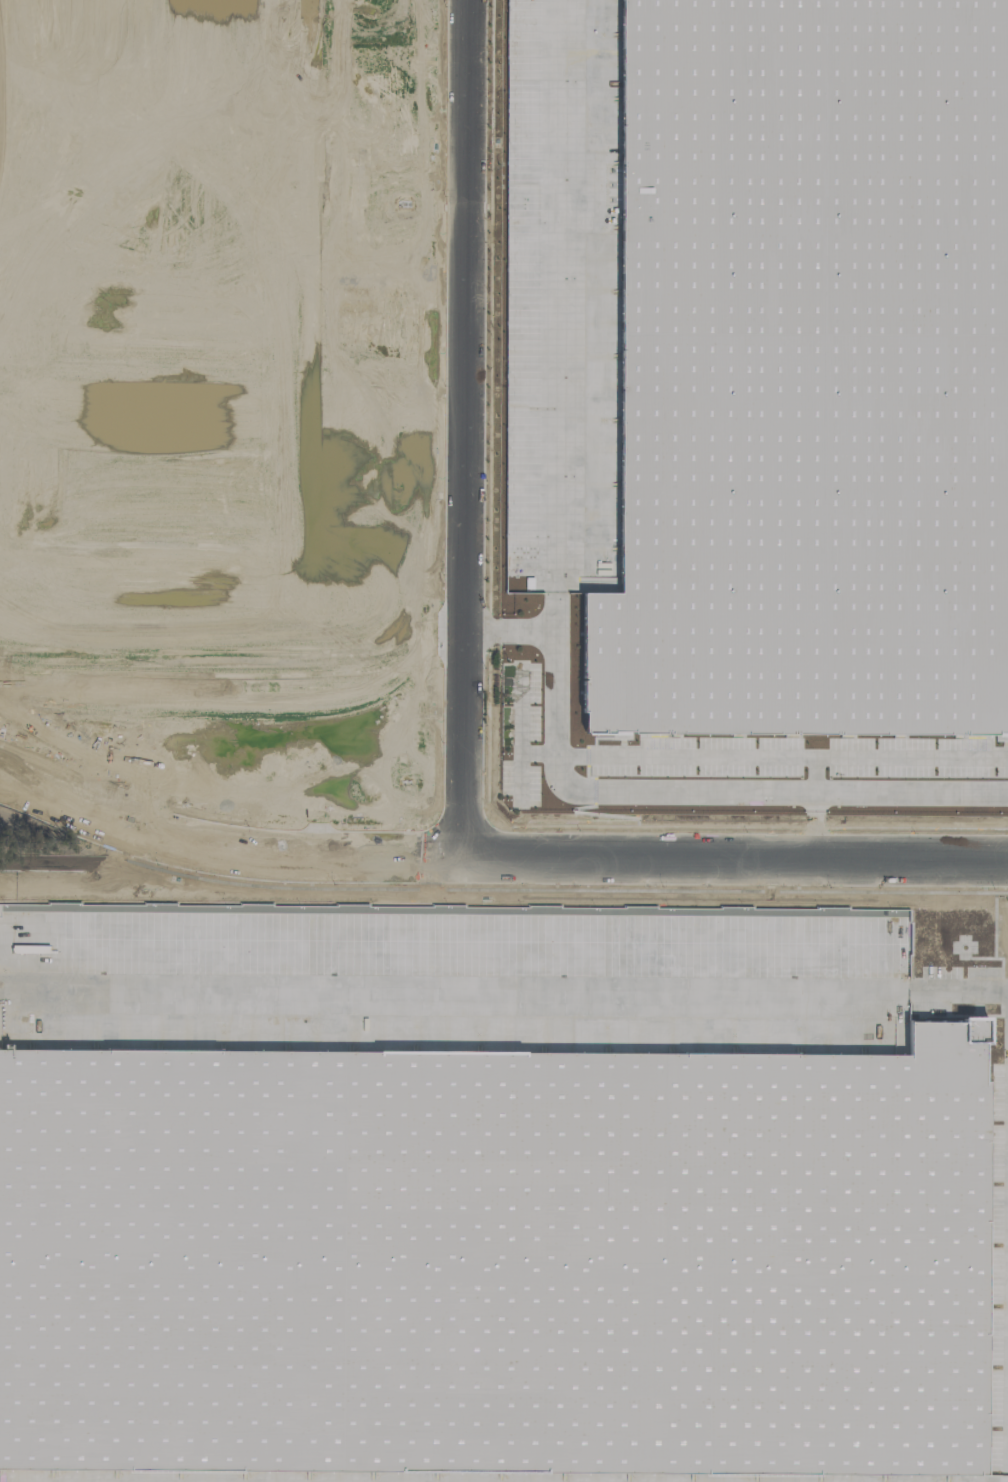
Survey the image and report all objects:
building: (155, 150)
building: (89, 247)
building: (154, 298)
road: (560, 314)
building: (808, 361)
building: (154, 391)
road: (463, 429)
building: (314, 464)
building: (42, 474)
building: (424, 576)
road: (507, 627)
road: (782, 758)
road: (818, 777)
road: (708, 794)
road: (818, 828)
road: (497, 859)
road: (503, 995)
building: (497, 1250)

